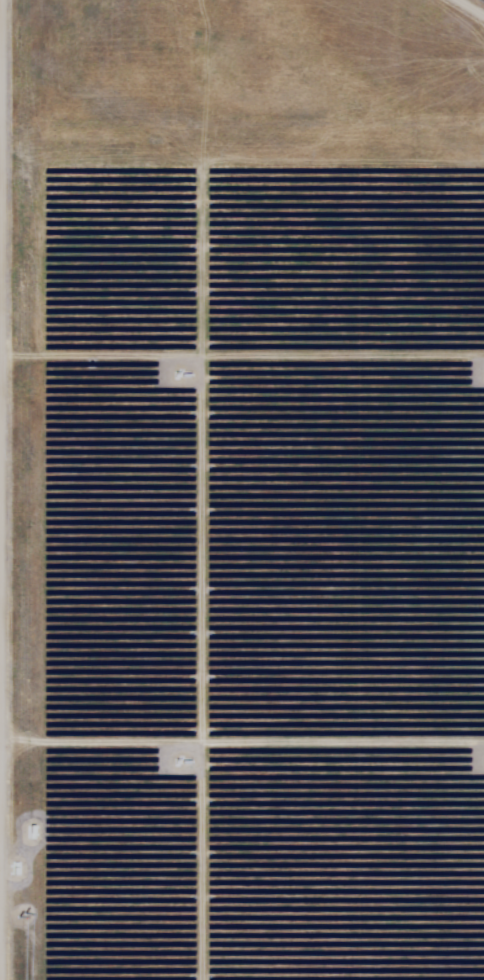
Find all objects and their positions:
solar farm: (242, 490)

